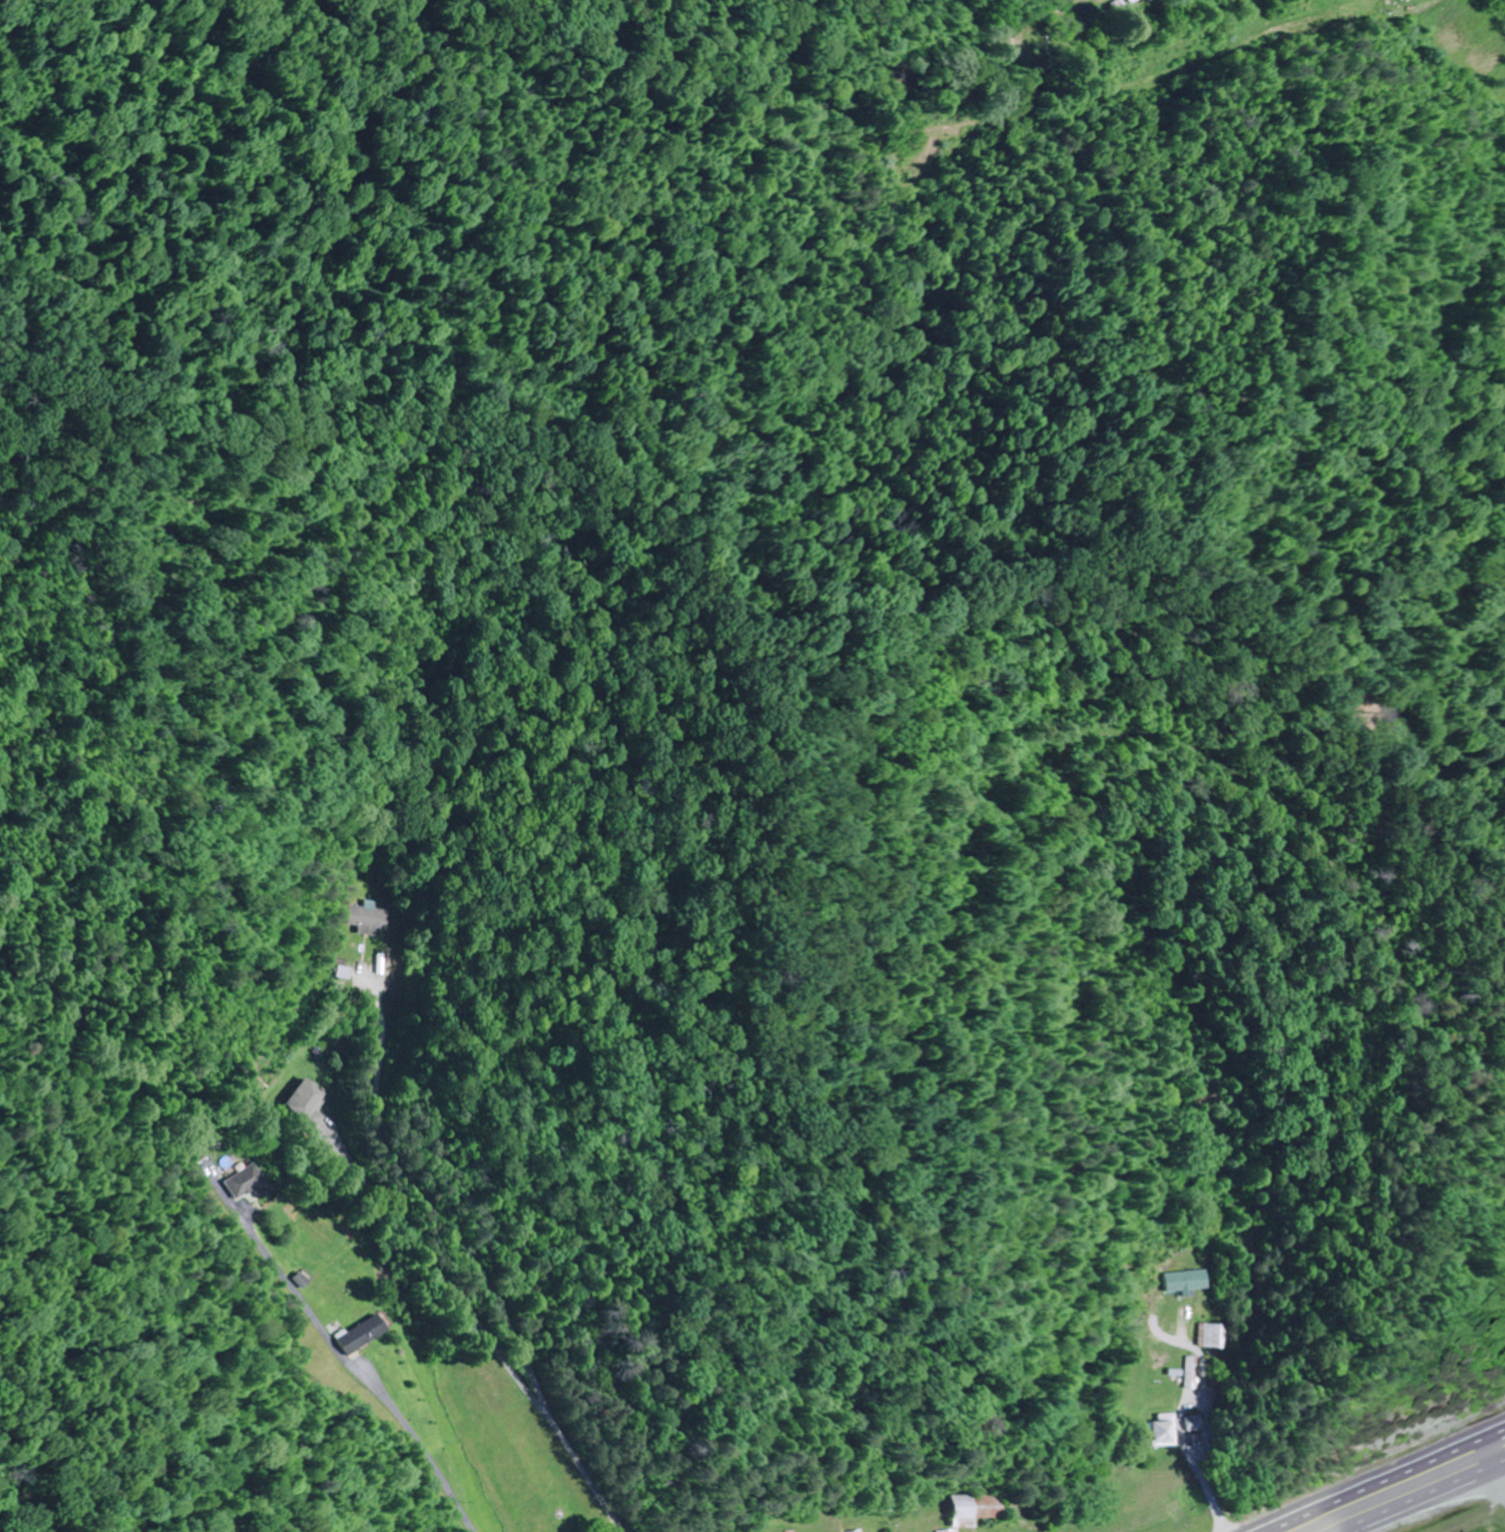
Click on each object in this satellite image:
building: (1134, 2)
building: (370, 921)
building: (309, 1104)
building: (249, 1183)
building: (1186, 1282)
building: (362, 1334)
building: (1214, 1336)
building: (1191, 1373)
building: (1195, 1423)
building: (1164, 1429)
road: (1485, 1451)
road: (1376, 1478)
road: (1498, 1480)
road: (1422, 1496)
building: (973, 1509)
building: (855, 1531)

